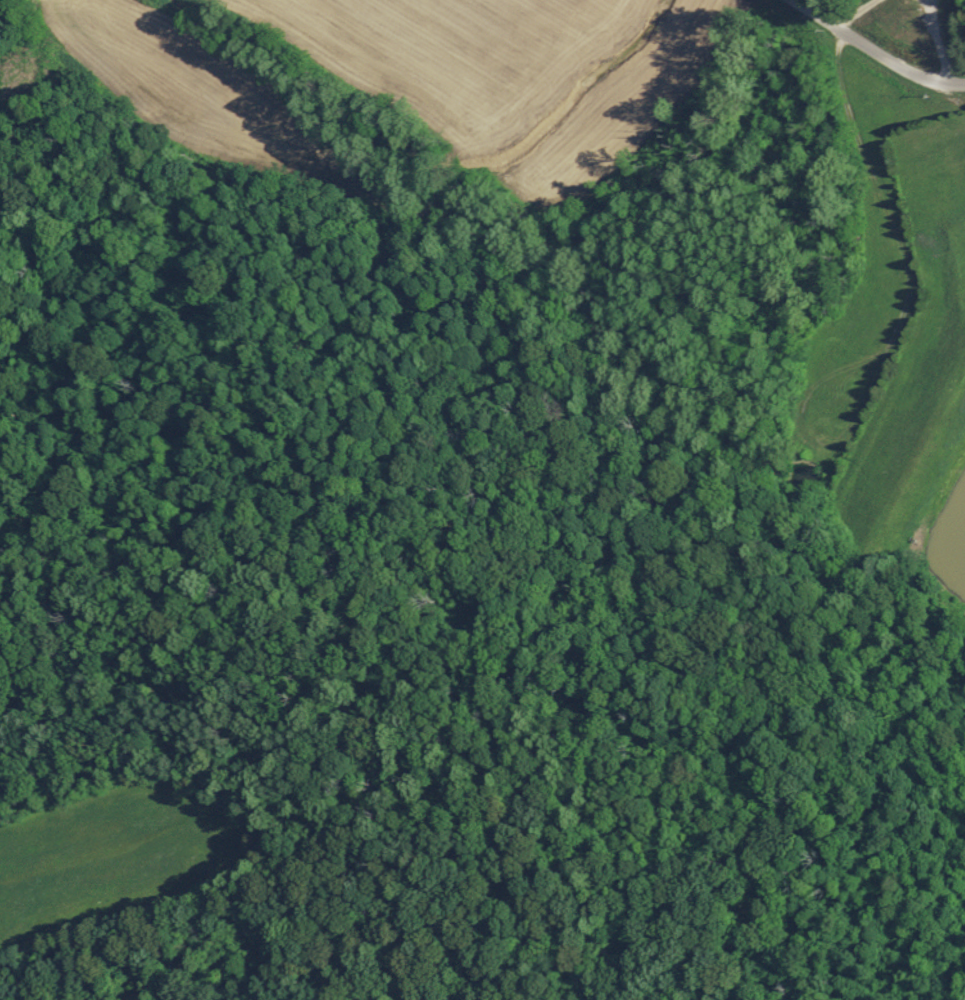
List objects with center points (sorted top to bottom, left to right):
road: (875, 50)

